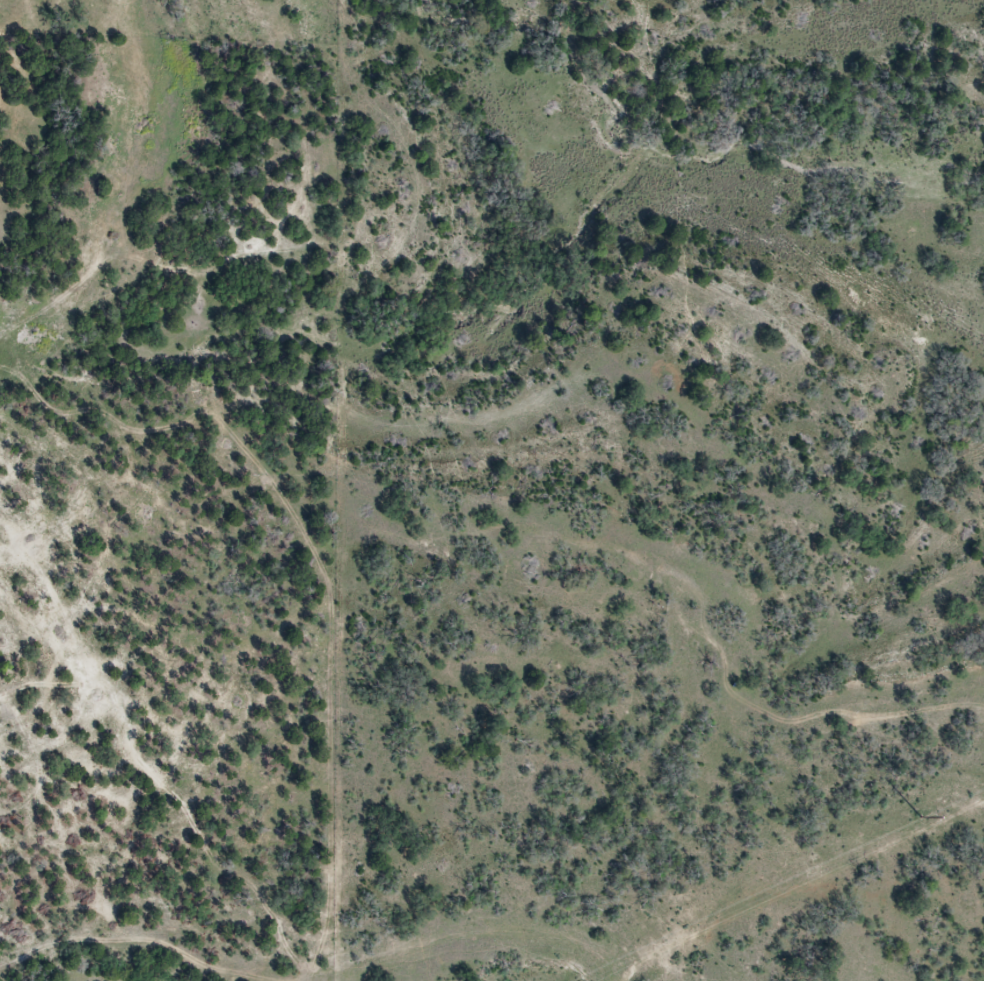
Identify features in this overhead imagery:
power tower: (921, 818)

